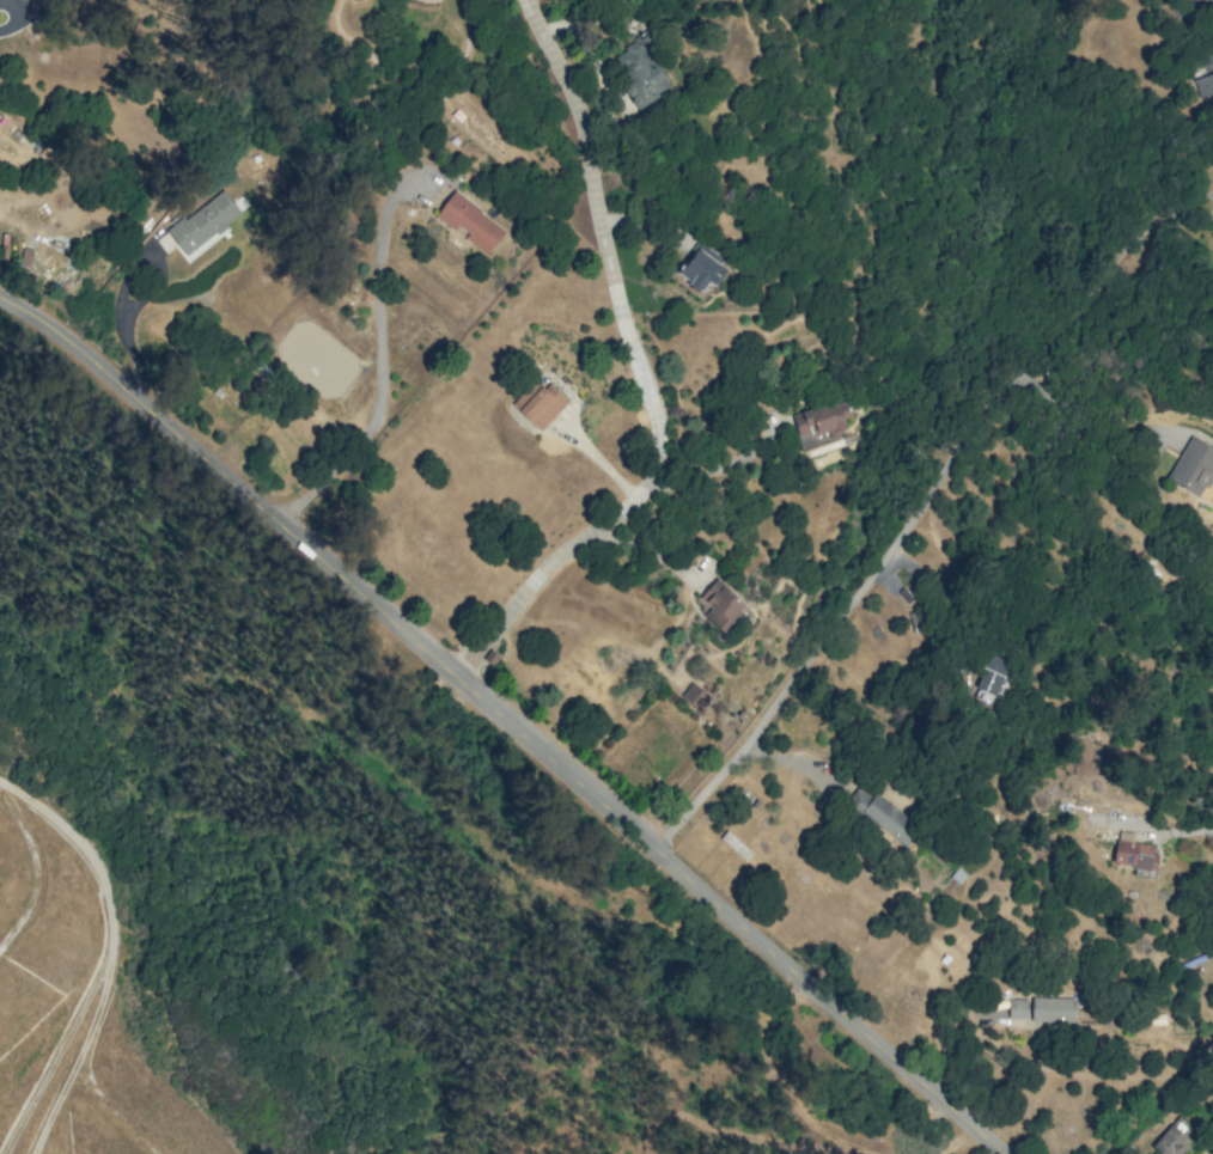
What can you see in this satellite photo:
road: (1188, 10)
road: (11, 18)
building: (641, 73)
building: (1205, 84)
building: (471, 222)
building: (205, 224)
building: (700, 268)
road: (377, 356)
road: (645, 368)
building: (540, 403)
building: (819, 425)
building: (1193, 468)
building: (721, 605)
building: (993, 674)
road: (774, 694)
building: (695, 696)
road: (502, 714)
building: (885, 817)
building: (736, 845)
building: (1133, 851)
landfill: (78, 1003)
building: (1017, 1008)
building: (1052, 1009)
building: (1170, 1142)

